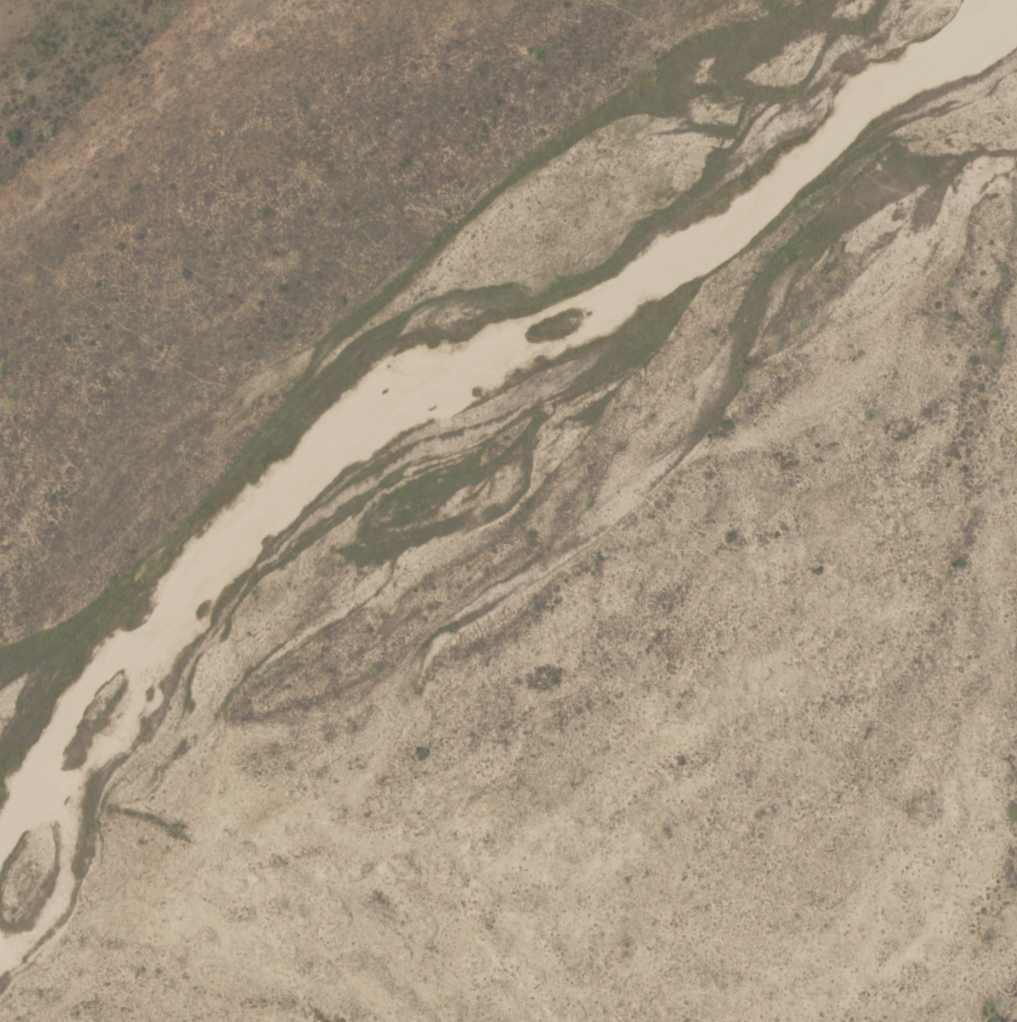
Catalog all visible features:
river: (423, 370)

